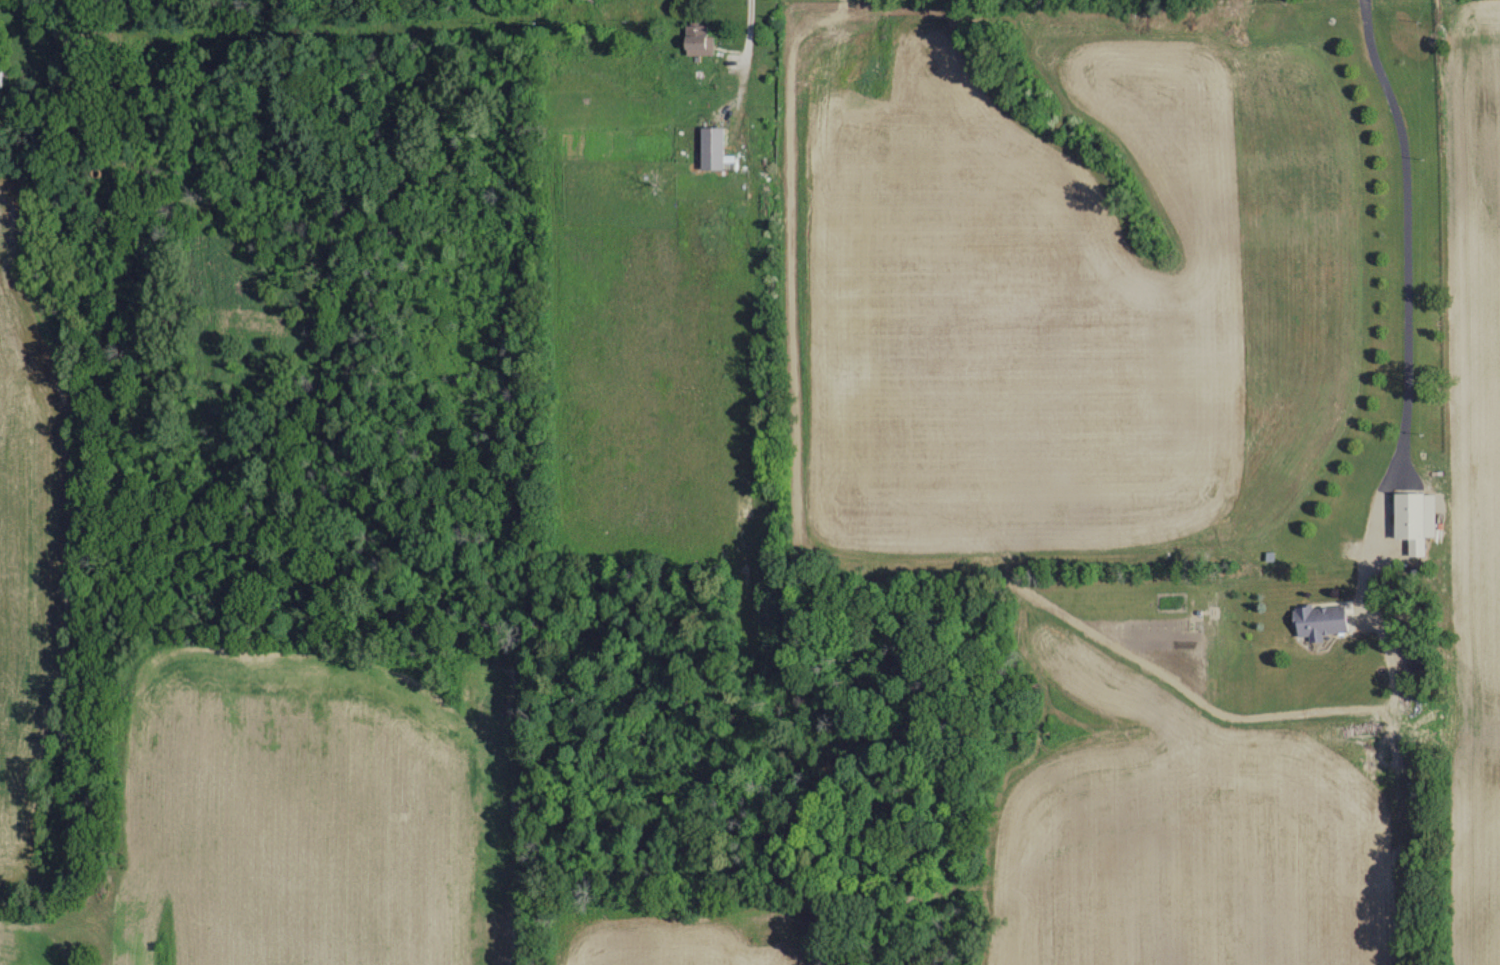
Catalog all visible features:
building: (693, 37)
road: (746, 72)
building: (1, 75)
building: (712, 145)
road: (1407, 296)
building: (1407, 514)
building: (1319, 619)

